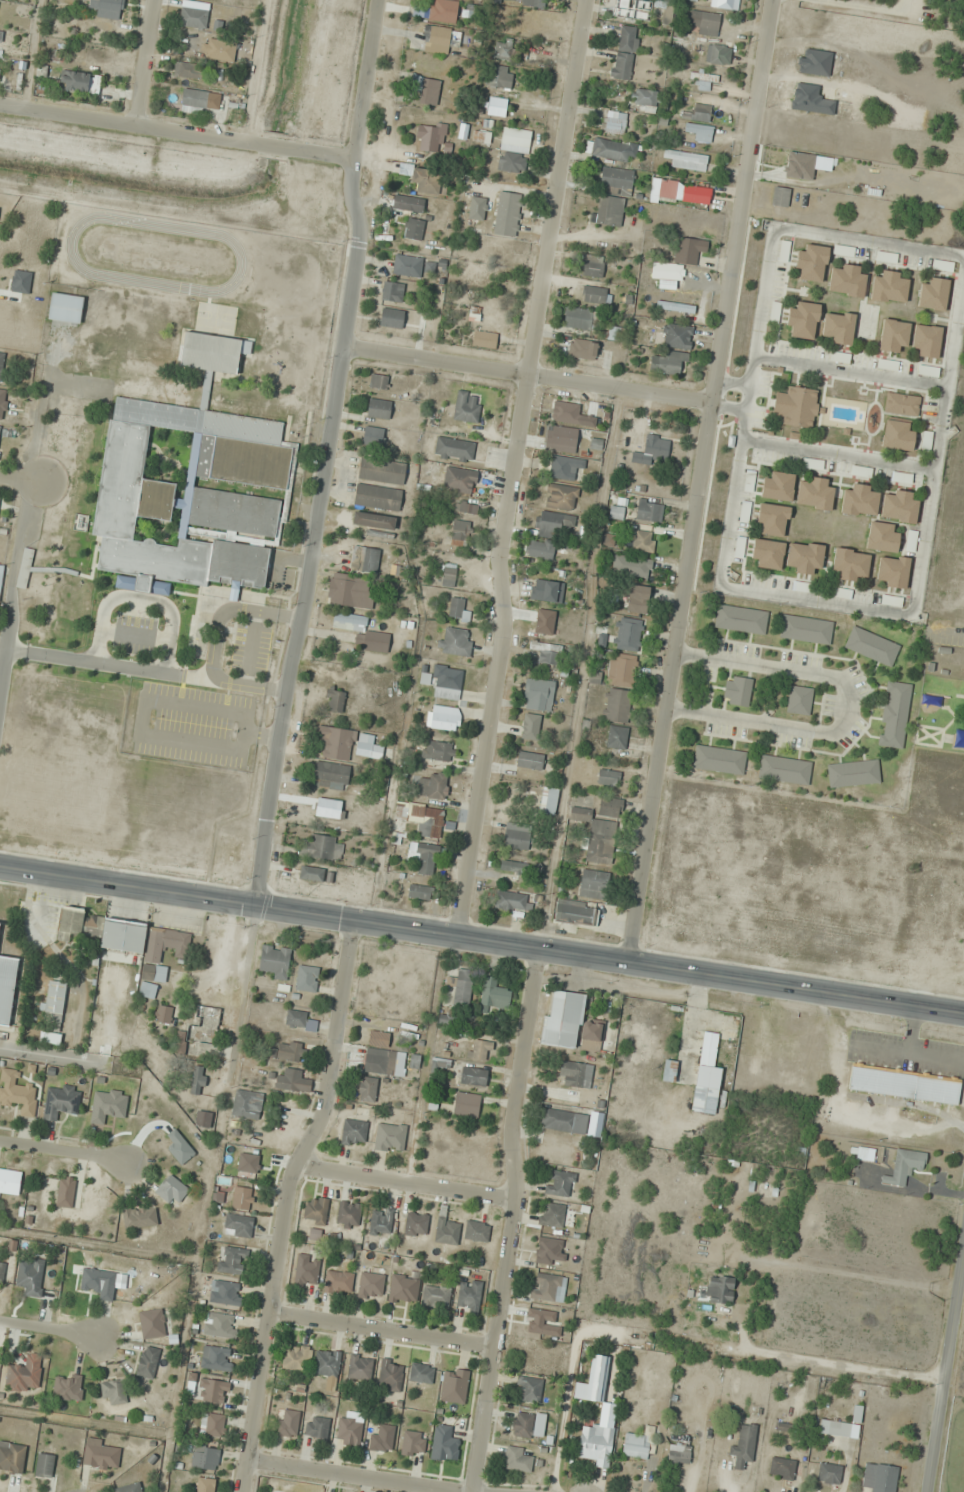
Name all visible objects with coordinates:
building: (522, 2)
building: (725, 4)
building: (107, 8)
building: (443, 11)
building: (193, 18)
building: (706, 24)
building: (1, 36)
building: (437, 38)
building: (503, 49)
building: (220, 50)
building: (625, 53)
building: (719, 55)
road: (149, 61)
building: (187, 70)
building: (499, 78)
building: (703, 79)
building: (74, 81)
road: (368, 81)
building: (425, 89)
building: (646, 98)
building: (200, 99)
building: (494, 109)
building: (697, 113)
building: (615, 123)
road: (178, 129)
building: (699, 132)
building: (430, 136)
building: (514, 150)
building: (613, 151)
building: (685, 159)
building: (800, 165)
building: (424, 179)
building: (616, 181)
building: (680, 192)
building: (780, 197)
building: (401, 203)
building: (477, 205)
building: (610, 211)
building: (509, 214)
building: (414, 229)
building: (689, 250)
building: (841, 252)
building: (499, 253)
building: (812, 263)
building: (407, 265)
building: (592, 266)
building: (942, 266)
building: (669, 274)
building: (847, 281)
building: (889, 287)
building: (392, 291)
building: (933, 294)
building: (596, 295)
building: (675, 307)
building: (65, 308)
building: (392, 318)
building: (582, 319)
building: (804, 320)
building: (838, 327)
building: (615, 333)
building: (893, 335)
building: (677, 336)
building: (484, 339)
building: (926, 341)
building: (107, 347)
building: (582, 349)
building: (150, 353)
building: (669, 363)
building: (1, 364)
building: (928, 371)
road: (528, 374)
building: (111, 380)
building: (379, 381)
building: (164, 389)
building: (3, 403)
building: (902, 404)
building: (466, 406)
building: (797, 406)
building: (378, 408)
building: (567, 412)
building: (898, 435)
building: (374, 436)
building: (561, 439)
building: (454, 449)
building: (652, 450)
building: (239, 462)
road: (518, 467)
building: (565, 467)
building: (381, 471)
building: (862, 471)
road: (21, 480)
building: (460, 480)
road: (701, 480)
building: (778, 486)
building: (815, 493)
building: (377, 497)
building: (561, 497)
building: (860, 501)
building: (466, 507)
building: (899, 507)
building: (649, 511)
building: (616, 512)
building: (374, 520)
building: (772, 520)
building: (554, 522)
road: (314, 532)
building: (461, 532)
building: (882, 537)
building: (643, 541)
building: (540, 549)
building: (768, 553)
building: (804, 557)
building: (365, 559)
building: (26, 560)
road: (13, 563)
building: (851, 564)
building: (634, 566)
building: (892, 572)
building: (1, 575)
building: (449, 575)
building: (545, 590)
building: (350, 591)
building: (840, 592)
road: (139, 598)
building: (637, 599)
road: (226, 608)
building: (458, 610)
building: (741, 619)
building: (806, 629)
building: (362, 632)
road: (134, 634)
building: (628, 634)
building: (455, 641)
building: (872, 646)
road: (251, 647)
building: (550, 654)
road: (128, 666)
building: (623, 669)
building: (447, 682)
building: (737, 690)
building: (539, 695)
road: (145, 700)
building: (799, 700)
building: (335, 701)
building: (618, 705)
building: (895, 714)
building: (444, 718)
building: (530, 726)
building: (617, 737)
building: (335, 742)
building: (368, 746)
building: (440, 751)
building: (719, 759)
building: (530, 760)
building: (784, 769)
building: (853, 773)
building: (330, 776)
building: (609, 777)
building: (432, 785)
building: (549, 801)
building: (610, 807)
building: (422, 818)
building: (597, 836)
building: (322, 847)
building: (426, 858)
building: (515, 867)
building: (315, 874)
building: (594, 883)
building: (420, 892)
building: (513, 901)
building: (576, 912)
building: (102, 931)
road: (481, 939)
building: (274, 961)
building: (152, 963)
building: (307, 978)
building: (7, 987)
road: (244, 992)
building: (494, 994)
building: (54, 1006)
building: (164, 1014)
building: (207, 1018)
building: (296, 1018)
building: (570, 1024)
building: (179, 1042)
building: (481, 1049)
building: (775, 1050)
building: (287, 1051)
building: (380, 1054)
building: (440, 1065)
building: (669, 1070)
building: (576, 1074)
building: (473, 1076)
building: (707, 1076)
building: (198, 1080)
building: (290, 1080)
building: (904, 1084)
building: (368, 1089)
building: (17, 1092)
building: (61, 1101)
building: (467, 1104)
building: (244, 1105)
building: (204, 1119)
building: (568, 1121)
building: (354, 1132)
building: (390, 1137)
road: (65, 1152)
building: (905, 1167)
building: (10, 1182)
building: (560, 1183)
road: (406, 1184)
building: (171, 1190)
building: (66, 1192)
building: (243, 1198)
road: (289, 1204)
building: (316, 1210)
building: (349, 1214)
building: (552, 1214)
building: (139, 1216)
road: (514, 1220)
building: (380, 1222)
building: (416, 1224)
building: (238, 1225)
building: (447, 1231)
building: (477, 1231)
building: (551, 1250)
building: (232, 1260)
building: (2, 1270)
building: (307, 1271)
building: (32, 1278)
building: (99, 1282)
building: (338, 1282)
building: (371, 1286)
building: (549, 1287)
building: (403, 1289)
building: (720, 1289)
building: (225, 1293)
building: (436, 1296)
building: (469, 1296)
building: (152, 1323)
building: (220, 1325)
road: (383, 1328)
road: (50, 1336)
building: (216, 1358)
building: (297, 1358)
building: (147, 1362)
building: (327, 1363)
road: (846, 1363)
building: (360, 1367)
building: (421, 1373)
building: (24, 1374)
building: (390, 1375)
road: (946, 1376)
building: (597, 1378)
building: (454, 1385)
building: (529, 1389)
building: (213, 1391)
building: (114, 1392)
building: (287, 1423)
building: (212, 1424)
building: (529, 1425)
building: (316, 1428)
building: (835, 1428)
building: (349, 1431)
building: (382, 1438)
building: (413, 1444)
building: (444, 1444)
building: (596, 1444)
building: (638, 1444)
building: (743, 1444)
building: (679, 1454)
building: (101, 1457)
building: (12, 1458)
building: (205, 1458)
building: (517, 1460)
building: (44, 1466)
building: (782, 1469)
building: (829, 1474)
road: (343, 1477)
building: (879, 1478)
building: (205, 1485)
building: (128, 1488)

